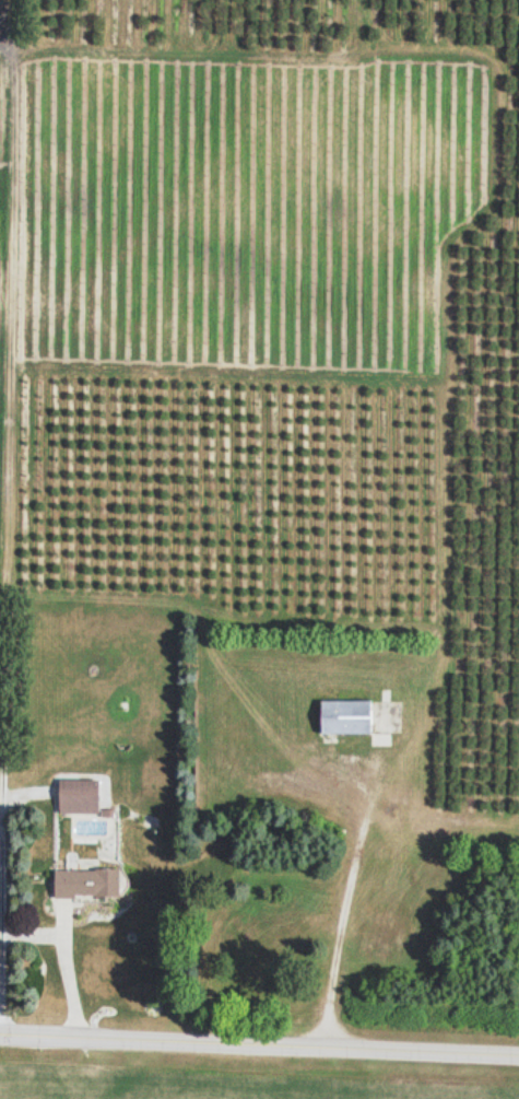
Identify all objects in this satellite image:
building: (341, 718)
building: (74, 798)
building: (83, 885)
building: (388, 934)
building: (248, 949)
road: (259, 1050)

